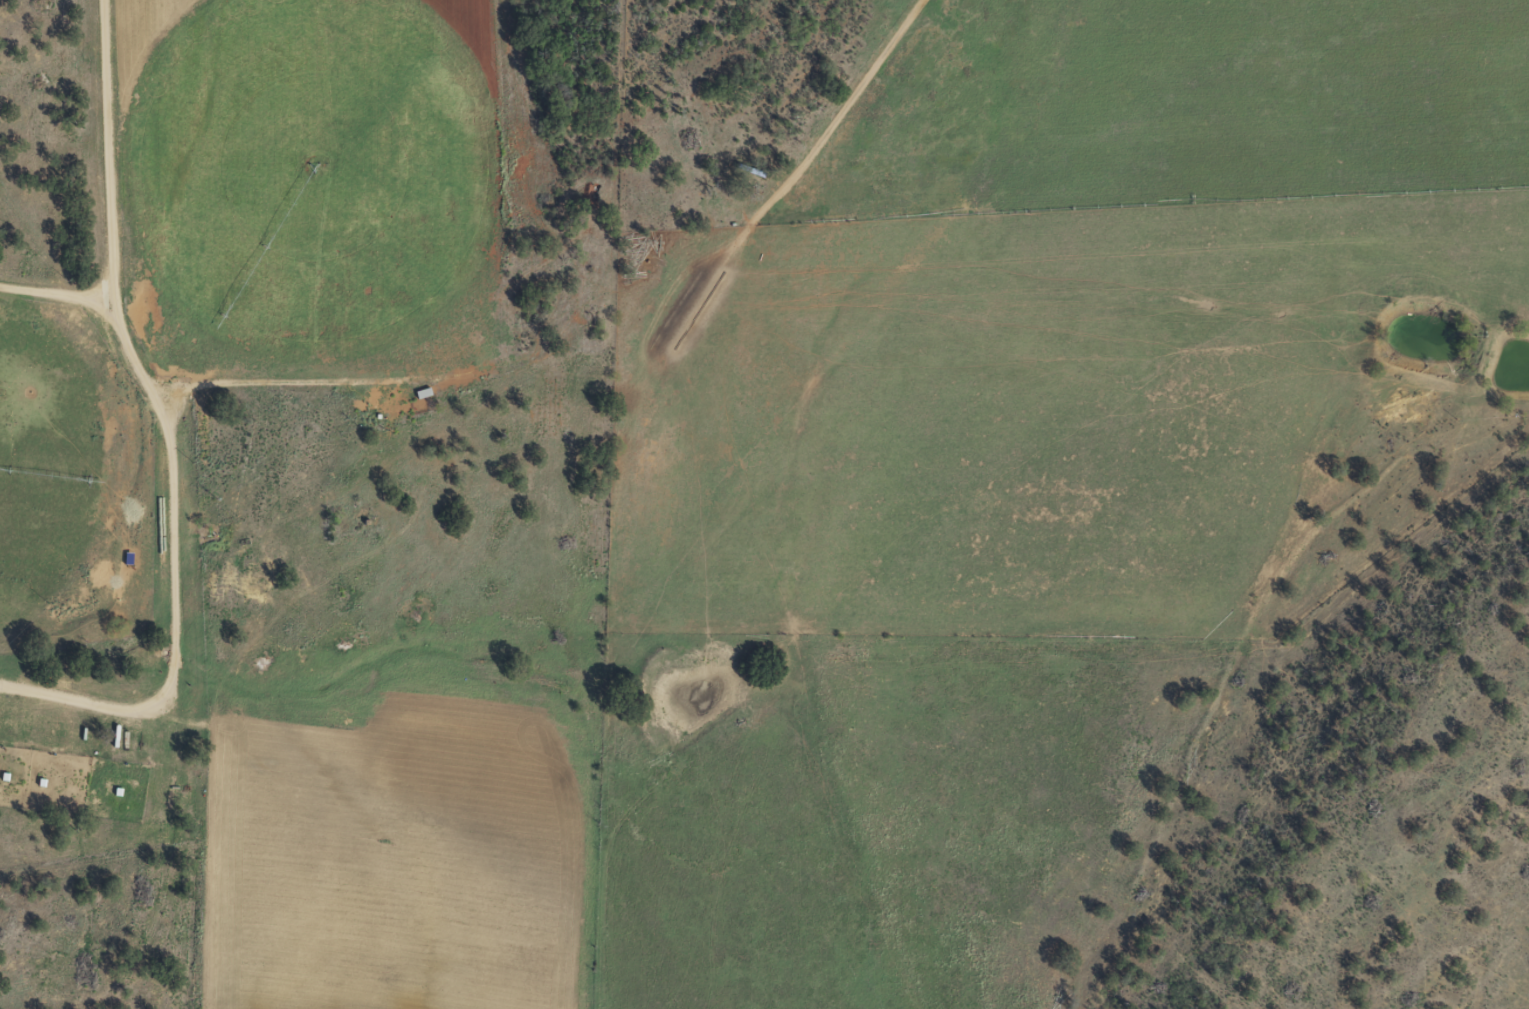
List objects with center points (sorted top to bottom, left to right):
road: (115, 261)

